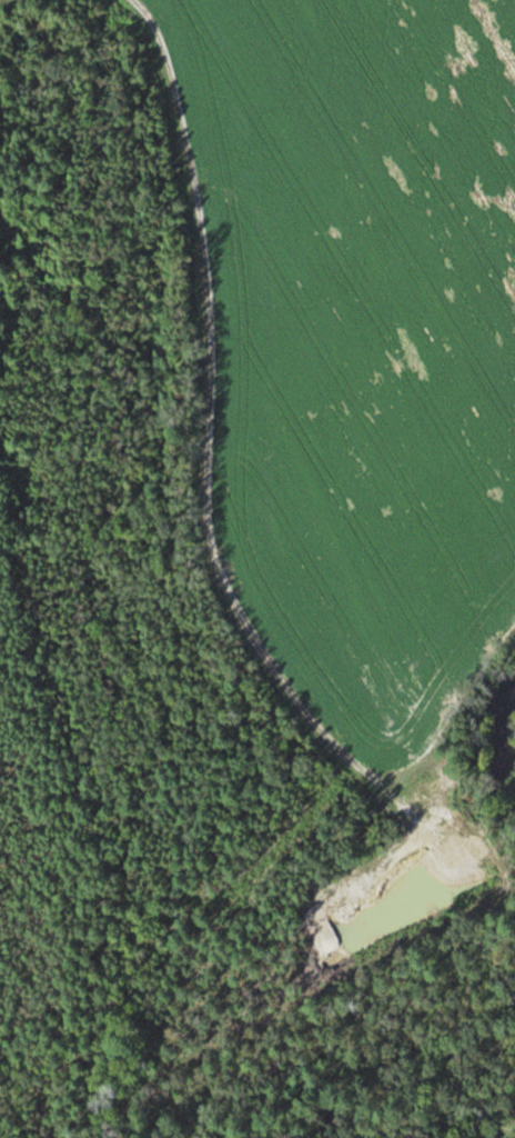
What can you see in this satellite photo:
river: (496, 746)

